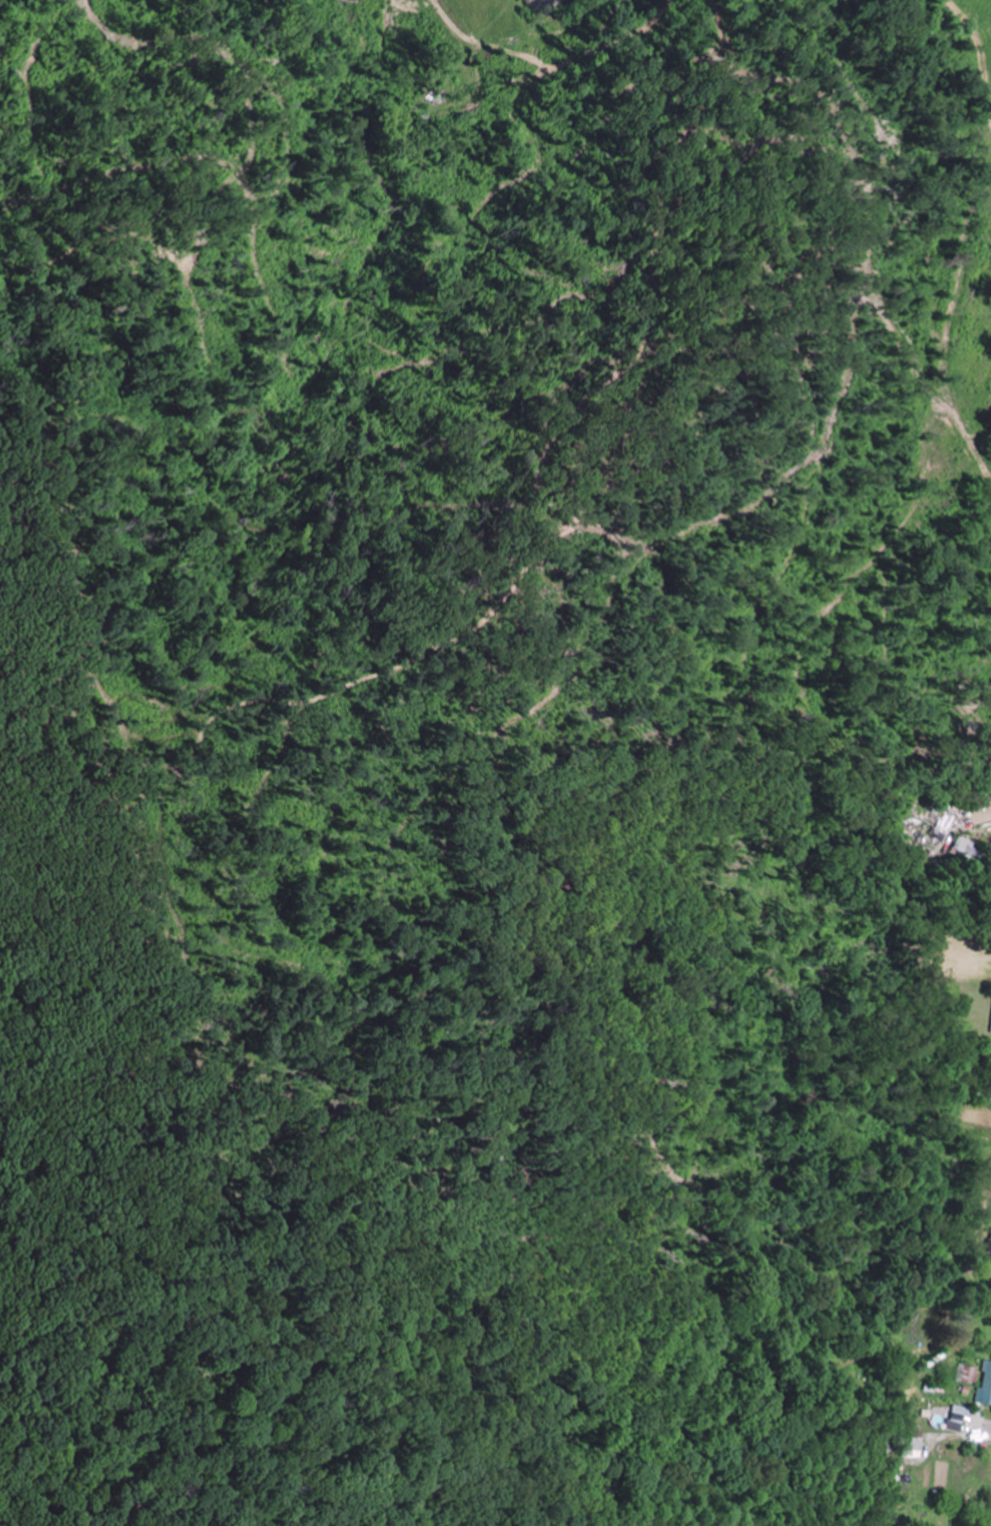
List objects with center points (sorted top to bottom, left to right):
building: (964, 851)
building: (990, 1029)
building: (989, 1109)
building: (988, 1247)
building: (984, 1387)
building: (951, 1421)
building: (906, 1435)

